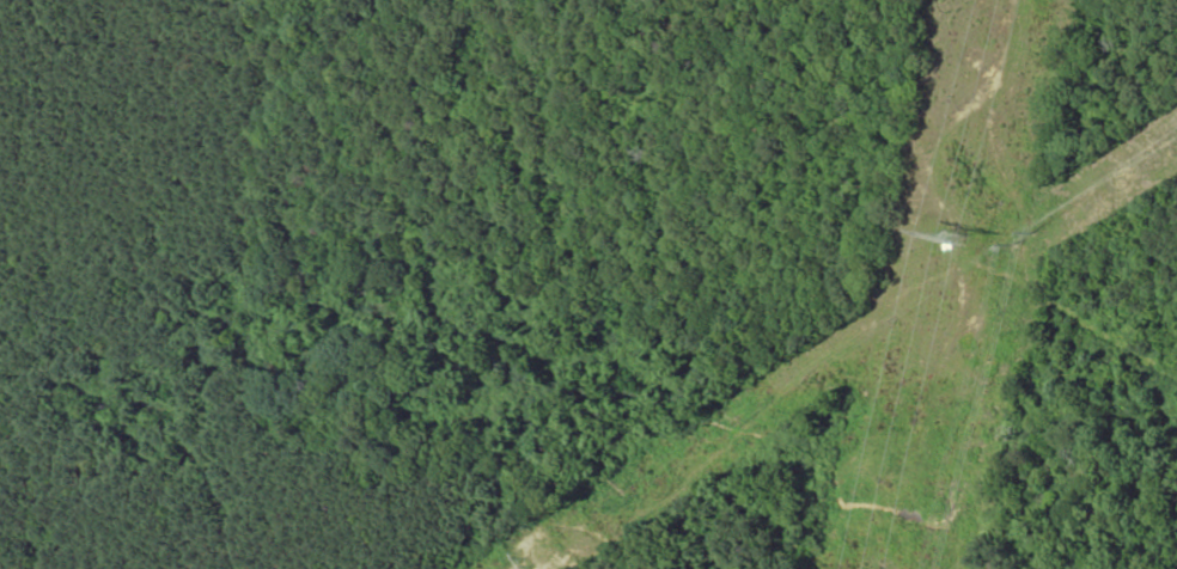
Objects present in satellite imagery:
power tower: (964, 255)

